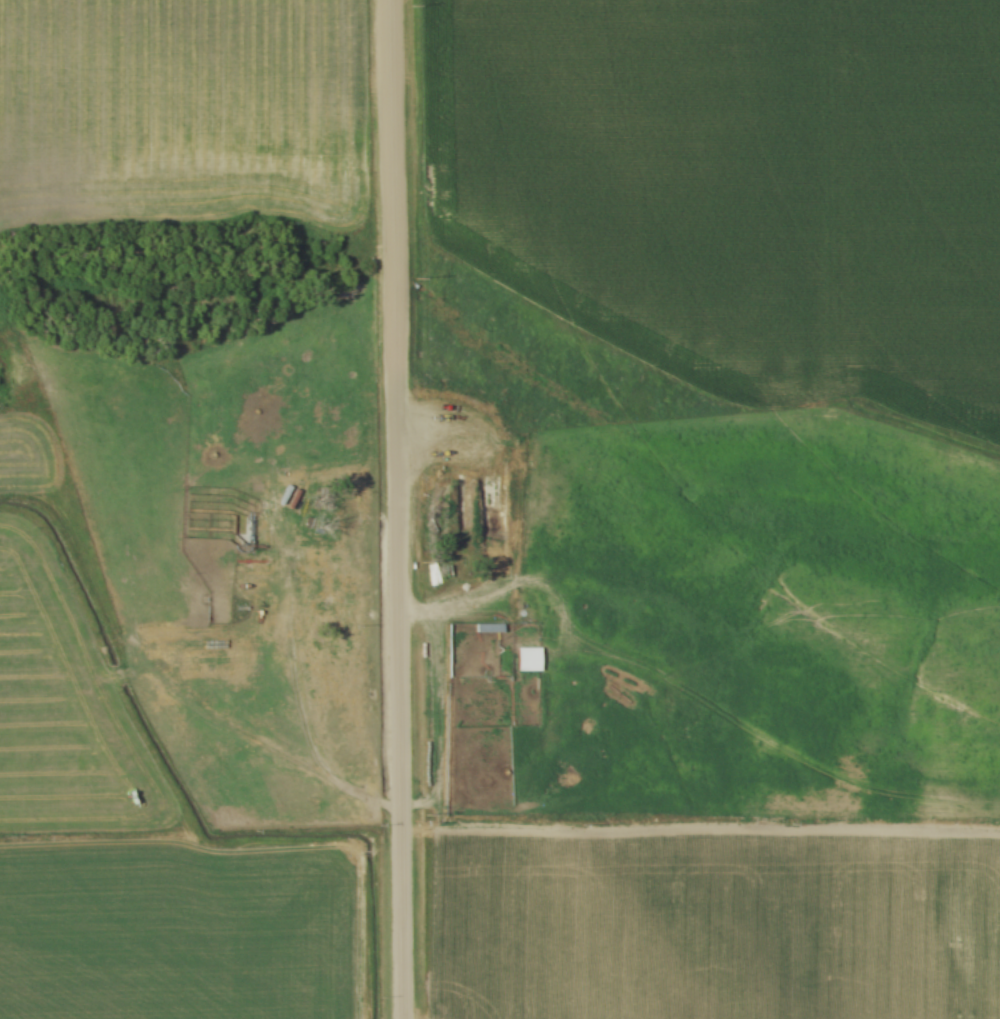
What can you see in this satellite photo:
crop: (180, 113)
crop: (738, 185)
road: (405, 411)
road: (485, 447)
crop: (30, 457)
road: (394, 509)
building: (222, 572)
building: (447, 573)
road: (508, 591)
building: (489, 629)
building: (525, 630)
building: (529, 661)
road: (298, 689)
road: (755, 740)
crop: (136, 850)
crop: (714, 929)

